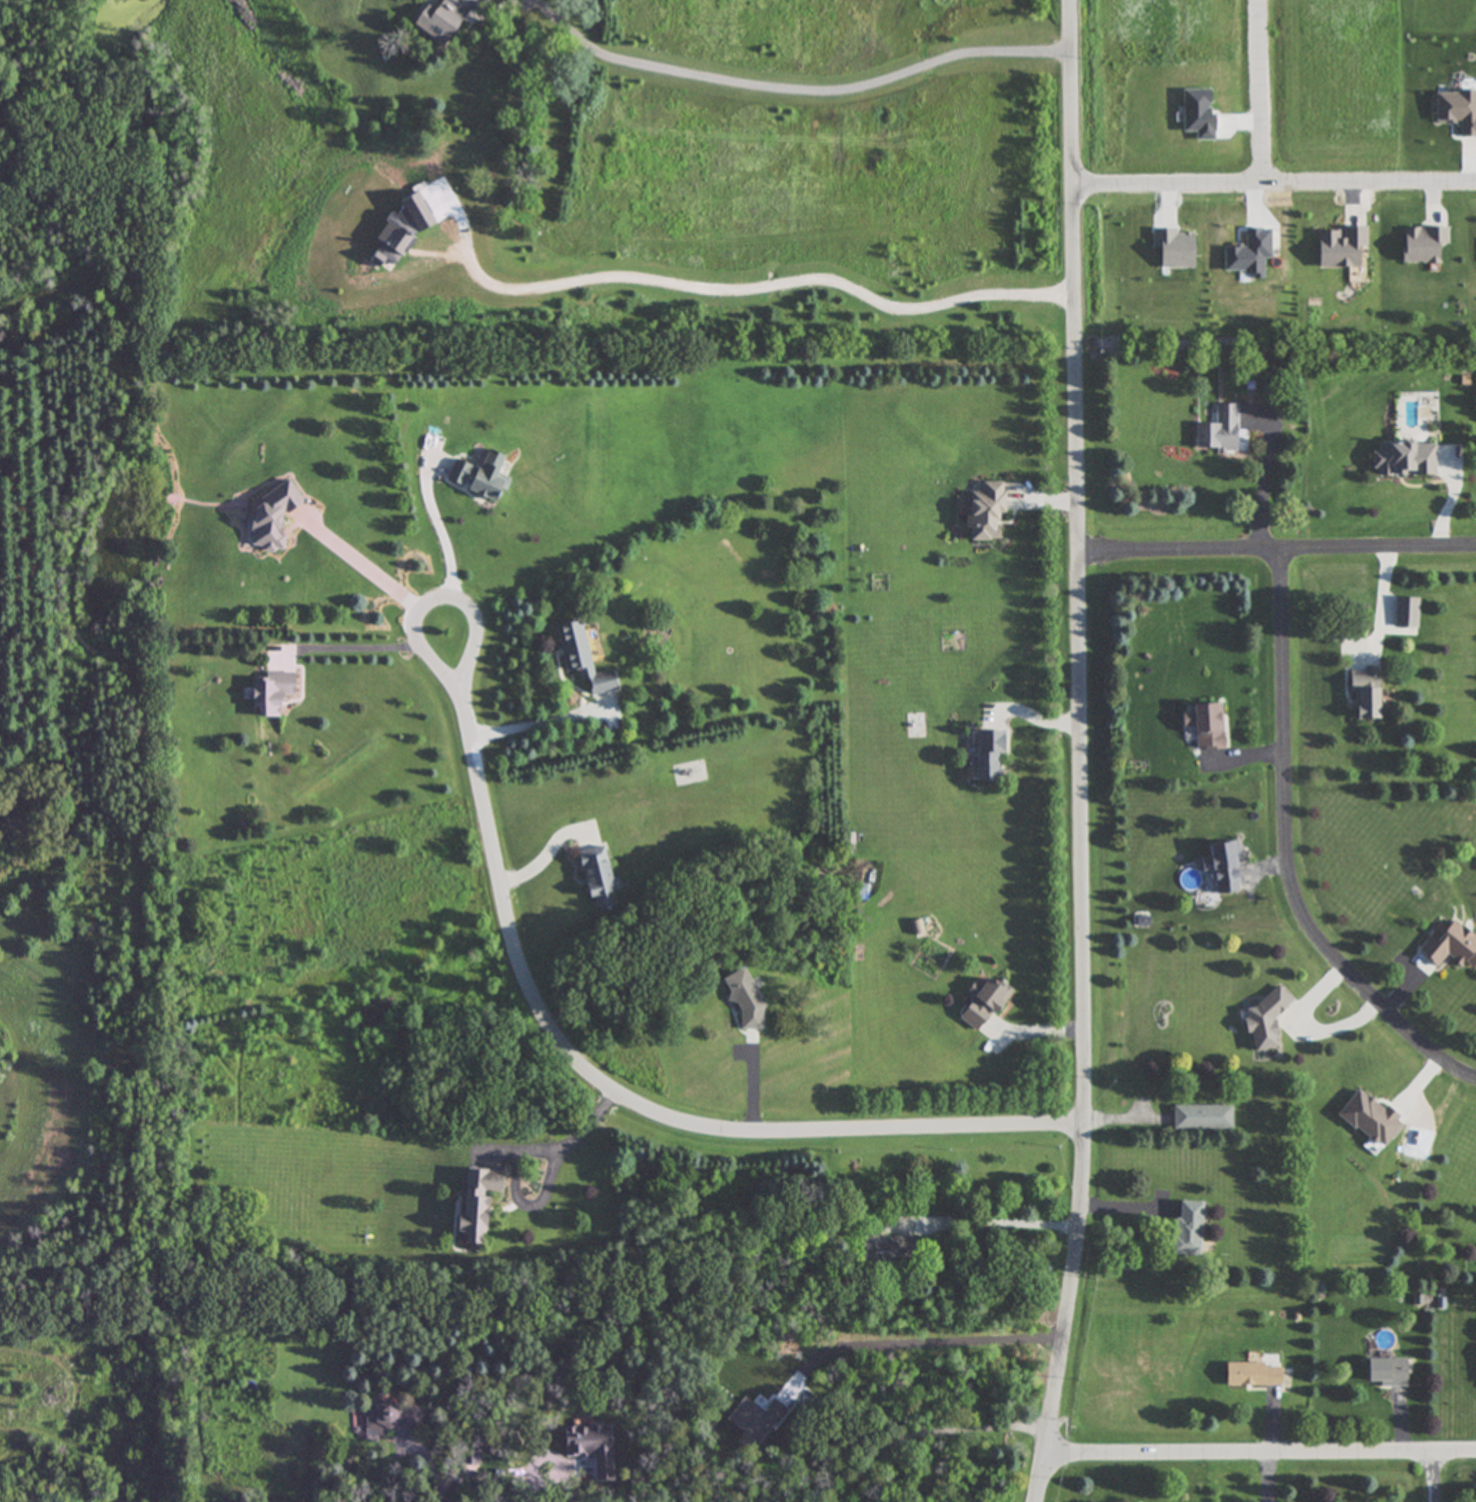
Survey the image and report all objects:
building: (439, 19)
road: (1267, 85)
road: (1277, 170)
building: (1421, 245)
building: (1338, 248)
road: (749, 280)
building: (1217, 429)
building: (1402, 457)
road: (1264, 468)
building: (475, 474)
building: (982, 510)
building: (267, 515)
road: (447, 542)
road: (1281, 545)
road: (376, 572)
road: (1382, 600)
building: (1404, 611)
park: (83, 636)
road: (369, 644)
building: (576, 655)
building: (267, 692)
building: (1361, 692)
road: (539, 720)
building: (1203, 725)
road: (1084, 752)
building: (985, 755)
road: (1290, 850)
building: (1221, 865)
building: (592, 876)
building: (1450, 945)
building: (982, 1003)
building: (1264, 1019)
road: (607, 1085)
building: (1202, 1117)
building: (1368, 1119)
road: (574, 1136)
building: (474, 1201)
road: (991, 1216)
building: (1186, 1229)
building: (876, 1250)
road: (732, 1358)
building: (1384, 1371)
building: (1251, 1373)
building: (387, 1416)
road: (932, 1433)
road: (1262, 1448)
road: (428, 1465)
road: (1433, 1475)

